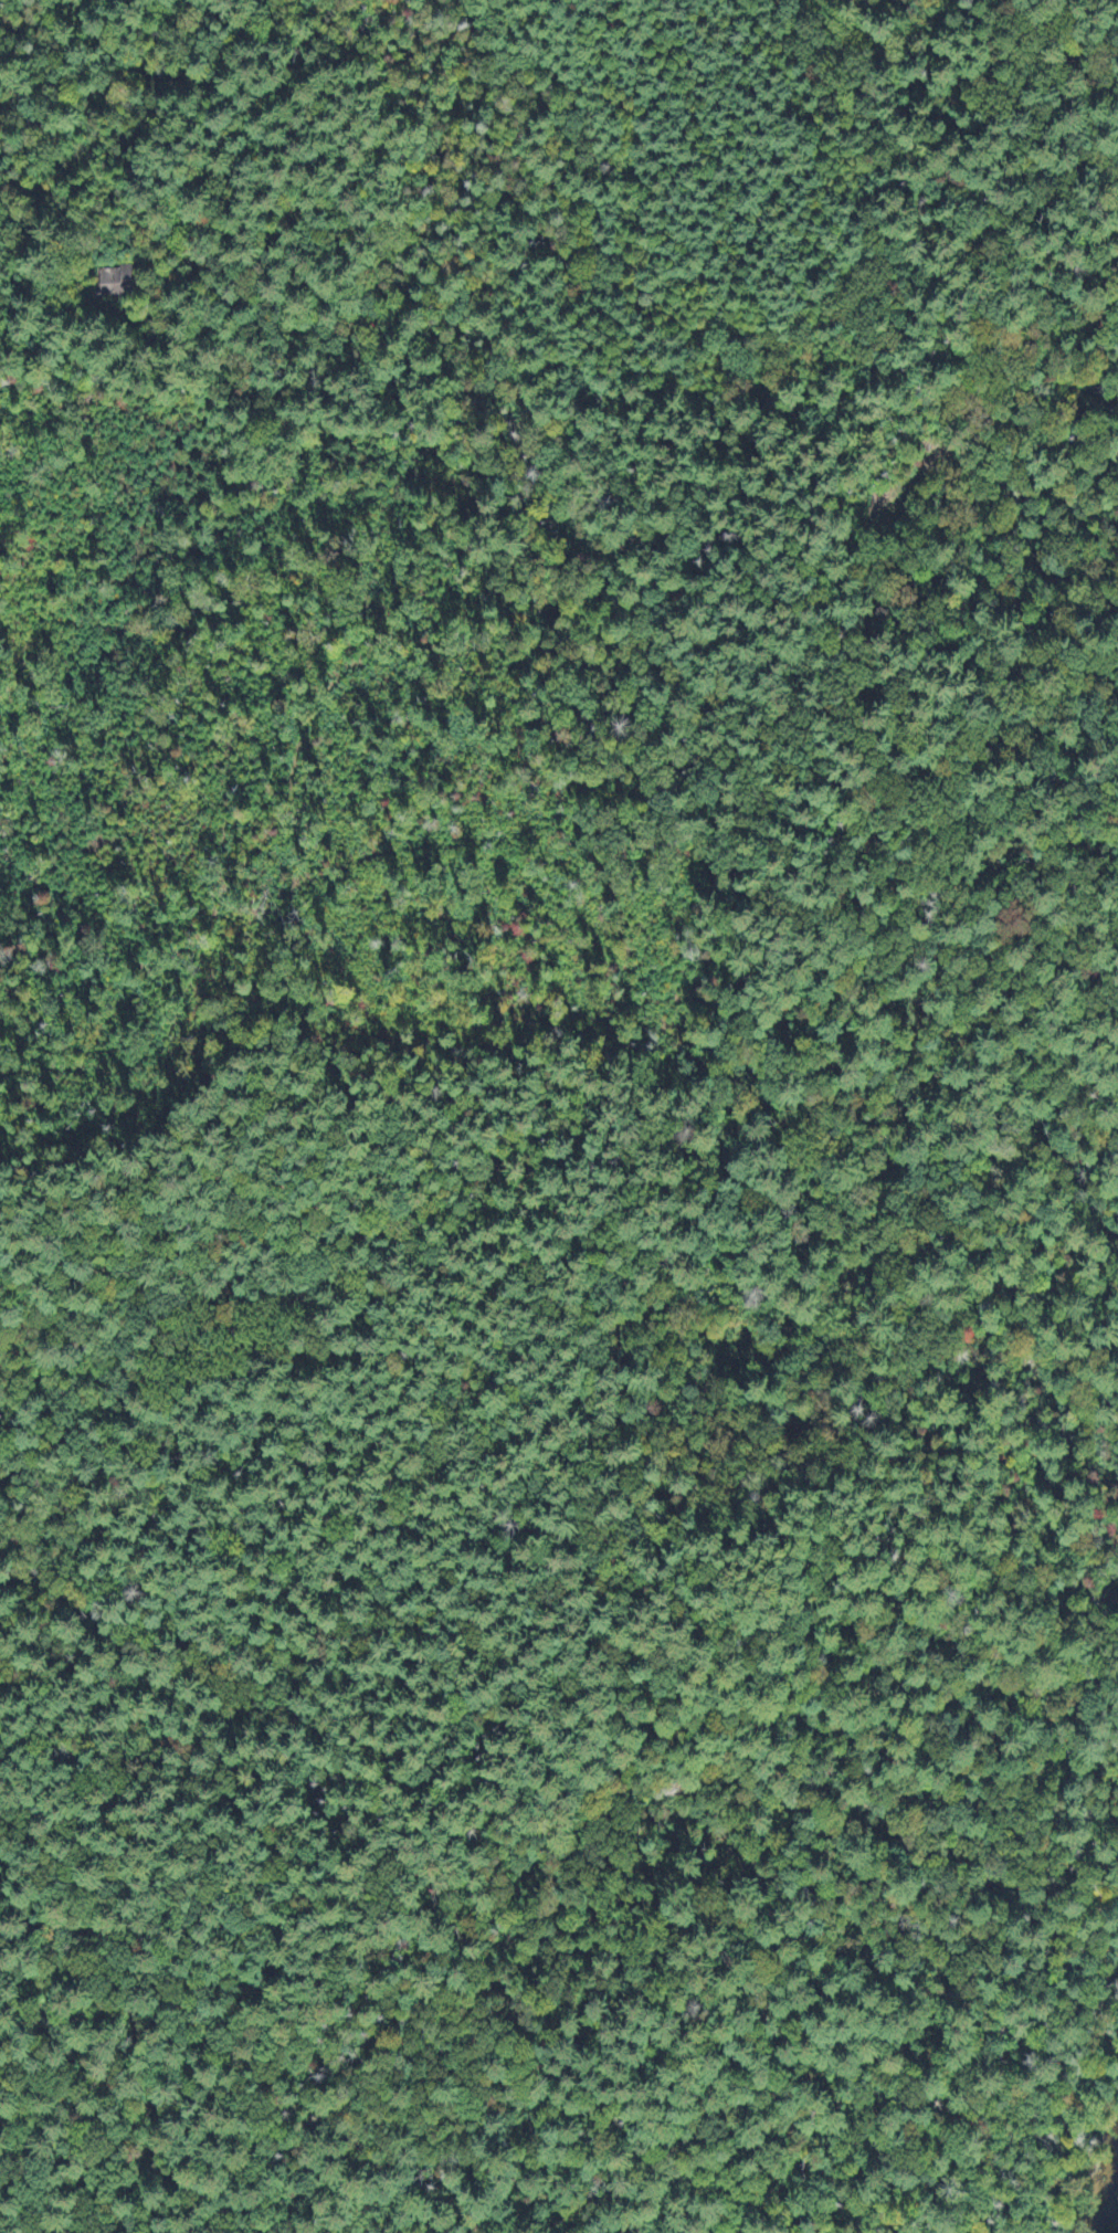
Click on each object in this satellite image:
road: (266, 120)
building: (116, 283)
river: (1100, 2199)

